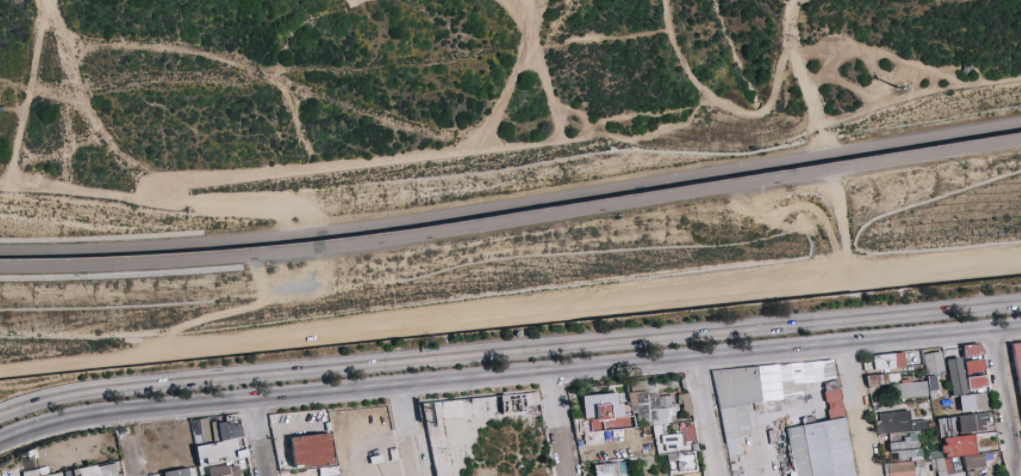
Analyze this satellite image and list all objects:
road: (903, 99)
road: (754, 113)
road: (323, 163)
road: (512, 202)
road: (223, 203)
road: (512, 221)
road: (841, 227)
road: (510, 320)
road: (594, 336)
building: (952, 357)
building: (1018, 358)
building: (889, 361)
road: (608, 363)
building: (934, 364)
building: (869, 366)
building: (974, 366)
building: (948, 370)
building: (829, 371)
building: (792, 375)
building: (894, 377)
building: (878, 380)
building: (684, 384)
building: (640, 386)
building: (738, 387)
building: (792, 387)
building: (933, 387)
road: (82, 388)
building: (908, 389)
building: (622, 391)
building: (955, 392)
building: (652, 395)
building: (913, 397)
building: (633, 398)
building: (833, 400)
road: (1005, 401)
building: (654, 402)
building: (667, 402)
building: (973, 402)
building: (686, 404)
building: (626, 407)
road: (858, 408)
building: (649, 410)
building: (673, 411)
building: (603, 412)
building: (626, 413)
road: (706, 415)
road: (97, 417)
building: (588, 418)
building: (691, 418)
building: (673, 419)
building: (808, 420)
building: (235, 421)
building: (735, 421)
road: (558, 422)
building: (894, 422)
building: (972, 422)
building: (619, 423)
building: (651, 423)
building: (596, 424)
building: (919, 424)
building: (931, 424)
building: (577, 425)
building: (986, 425)
building: (588, 426)
building: (946, 427)
road: (407, 430)
building: (216, 431)
building: (230, 431)
building: (203, 432)
building: (581, 432)
building: (582, 433)
building: (648, 433)
building: (605, 434)
building: (635, 436)
building: (903, 436)
road: (260, 437)
building: (581, 437)
building: (594, 437)
building: (683, 439)
building: (660, 440)
road: (367, 442)
building: (583, 442)
building: (672, 442)
building: (643, 443)
building: (948, 445)
building: (199, 446)
building: (964, 446)
building: (698, 448)
building: (905, 448)
building: (989, 448)
building: (821, 449)
building: (312, 451)
building: (946, 453)
building: (932, 454)
building: (939, 454)
road: (133, 457)
building: (673, 457)
building: (988, 457)
road: (753, 458)
building: (637, 459)
building: (48, 461)
building: (973, 461)
building: (648, 462)
building: (685, 462)
building: (696, 462)
building: (915, 463)
building: (918, 463)
building: (920, 464)
building: (680, 465)
building: (952, 465)
building: (583, 466)
building: (938, 466)
building: (623, 468)
building: (606, 469)
building: (618, 469)
building: (887, 469)
building: (902, 469)
building: (284, 470)
building: (85, 471)
building: (331, 471)
building: (36, 472)
building: (51, 472)
road: (395, 472)
building: (27, 473)
building: (69, 473)
building: (179, 473)
building: (585, 473)
building: (917, 473)
building: (972, 473)
building: (56, 474)
building: (63, 474)
building: (958, 474)
building: (227, 475)

